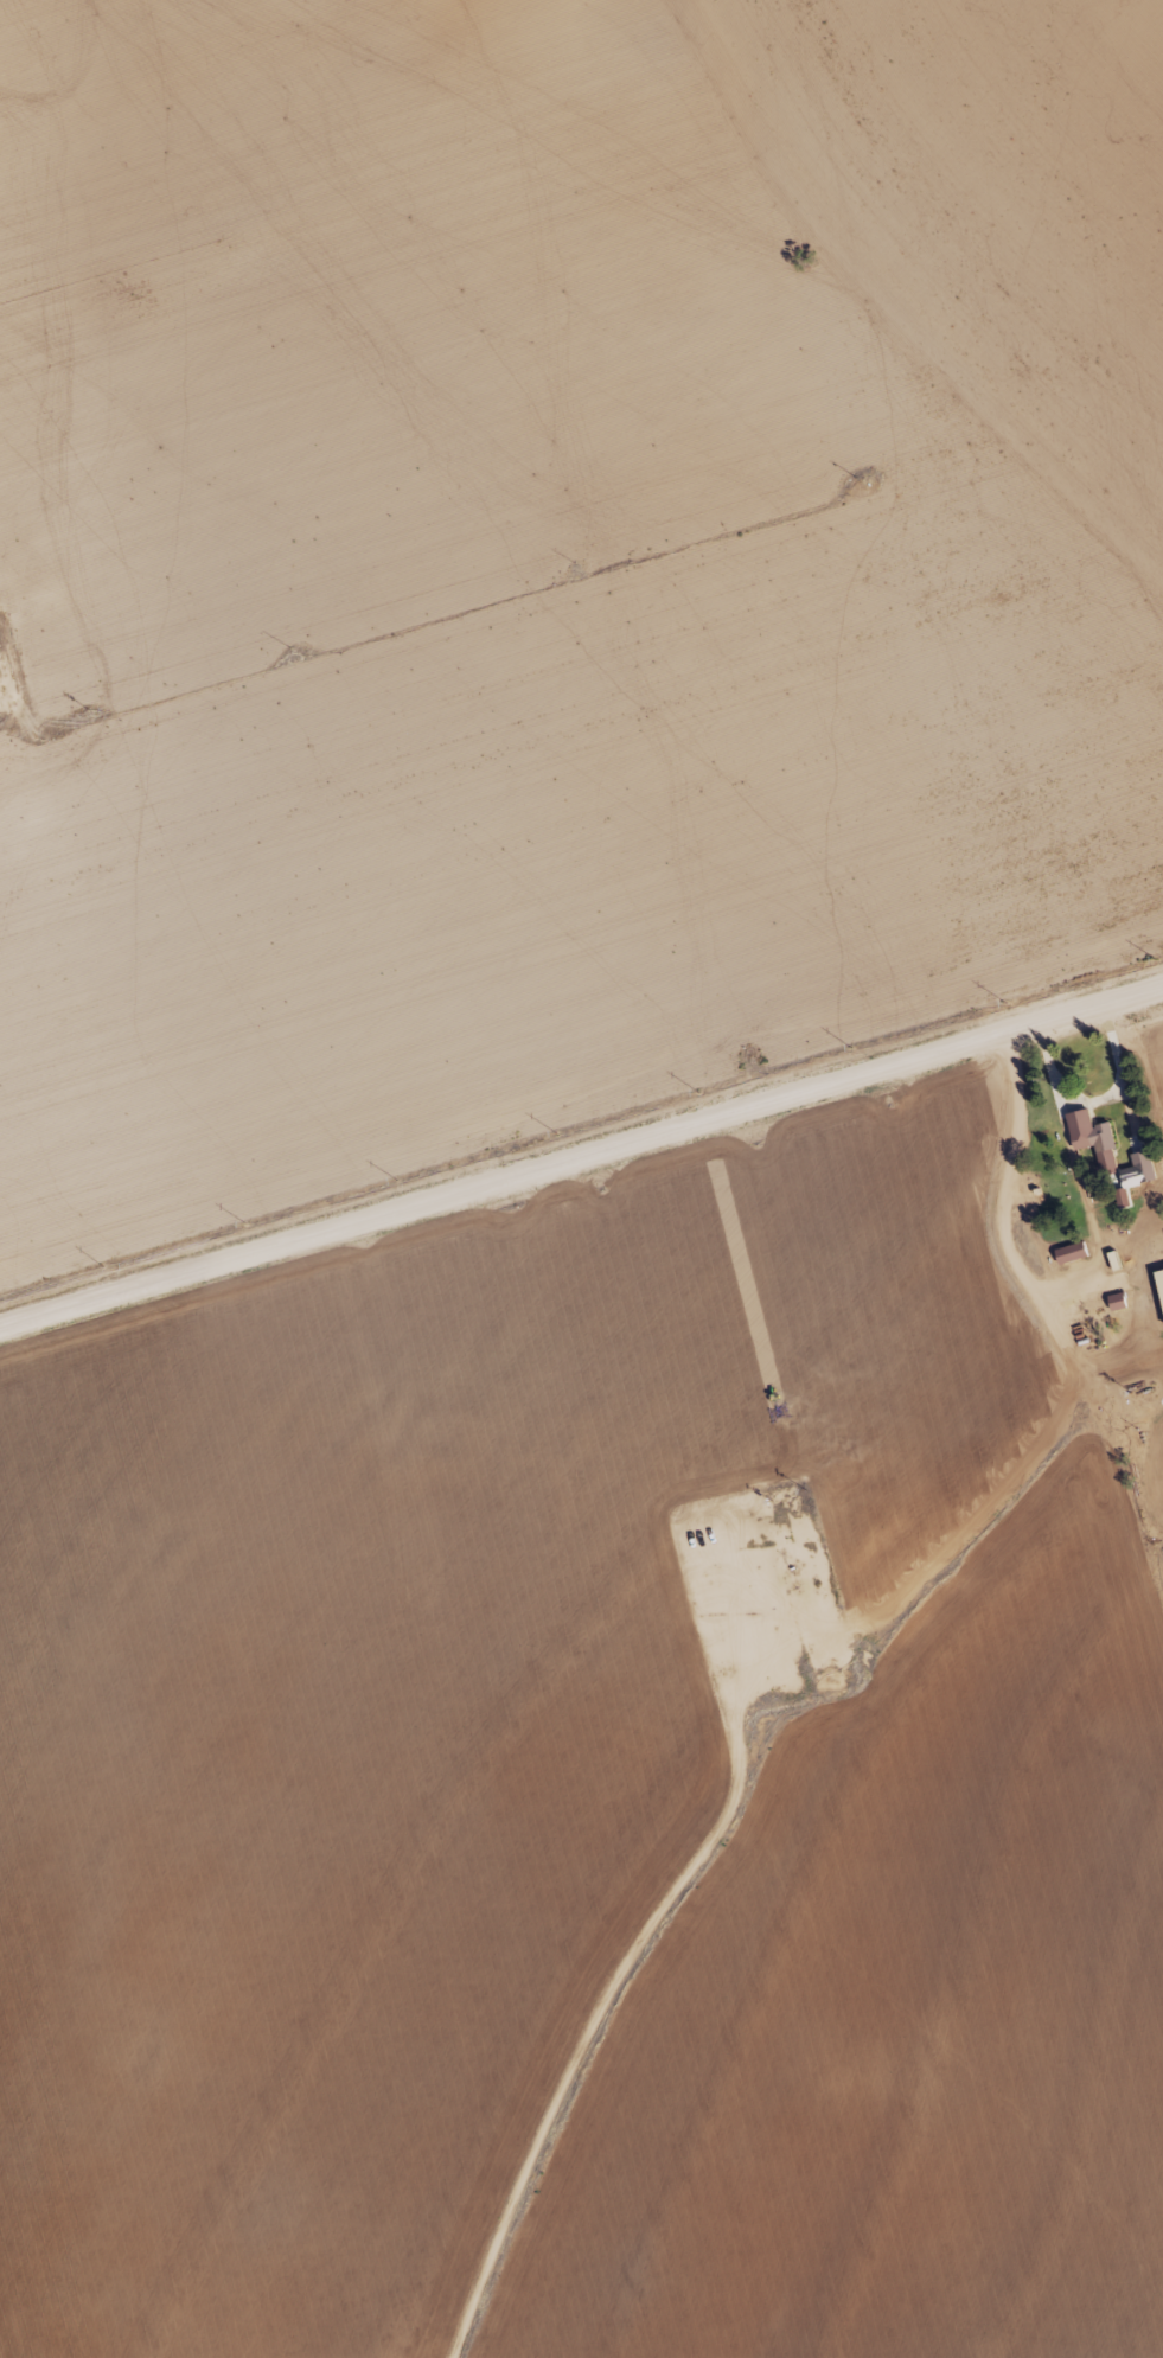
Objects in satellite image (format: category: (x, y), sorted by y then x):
building: (1103, 1137)
building: (1144, 1164)
road: (582, 1180)
building: (1073, 1251)

